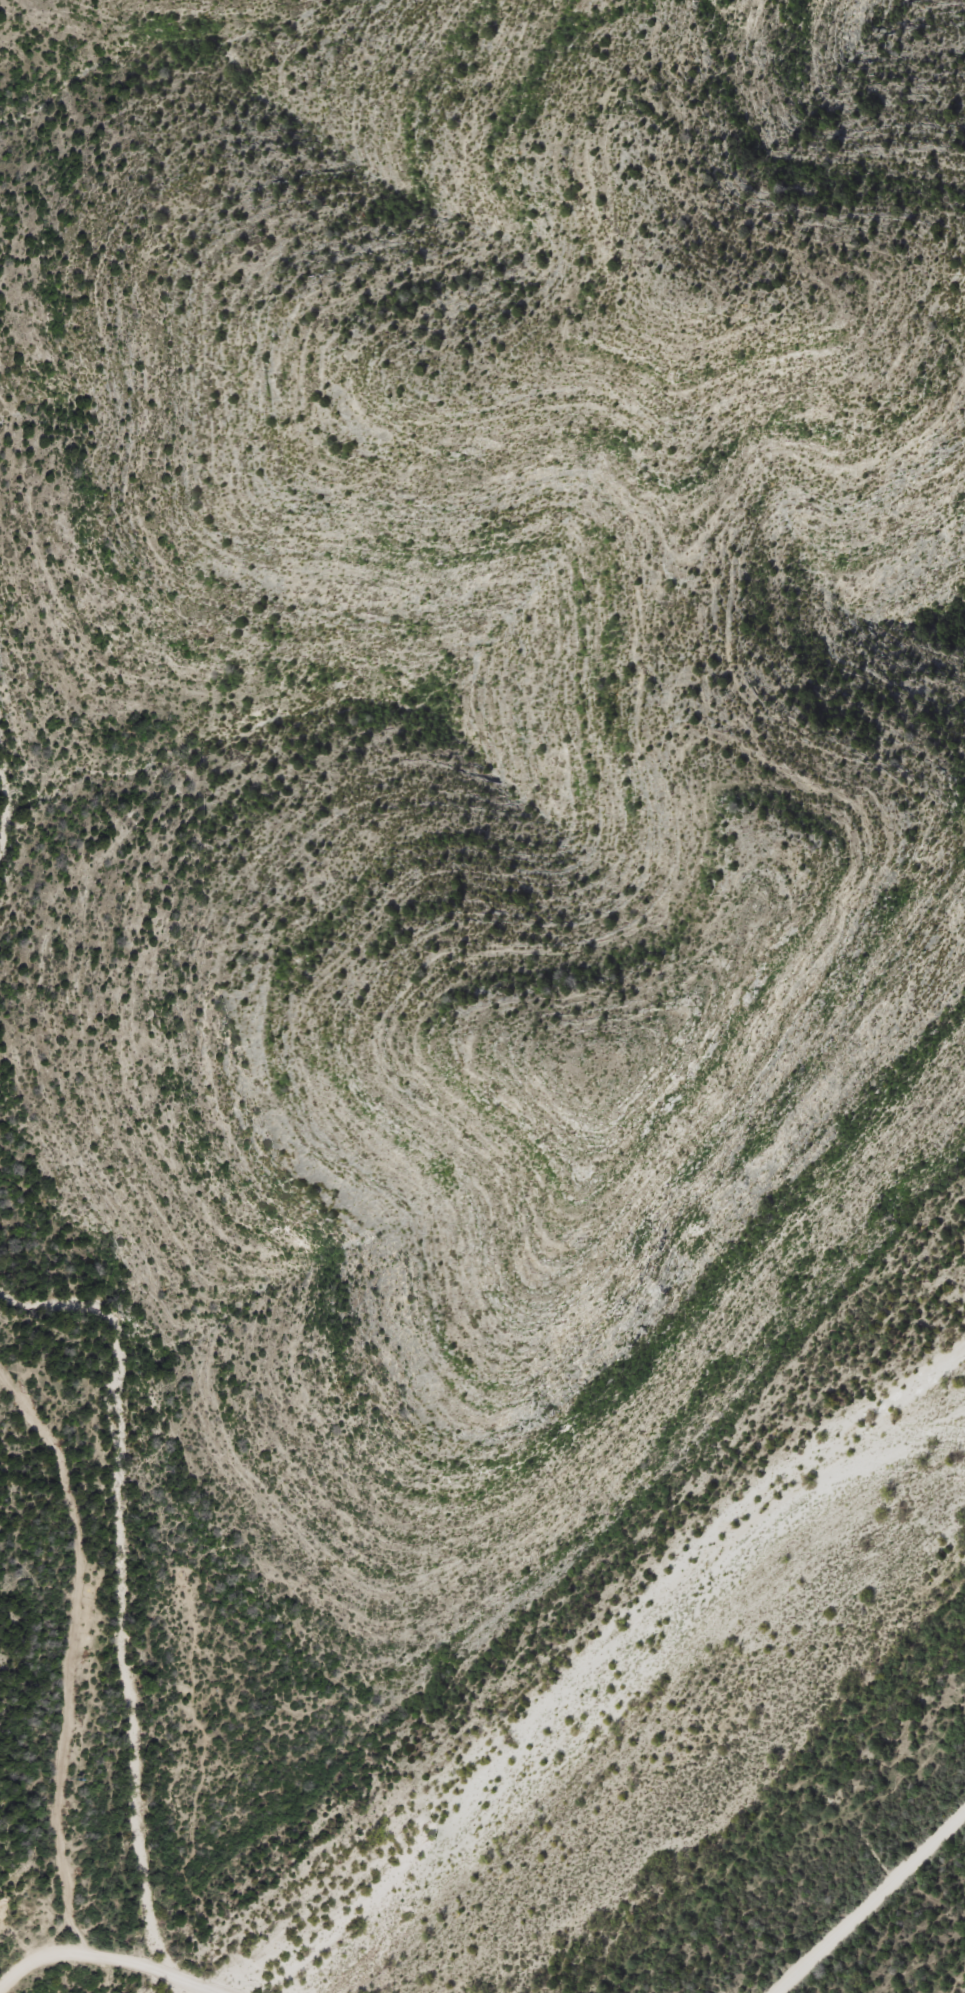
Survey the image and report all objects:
road: (71, 1653)
river: (491, 1681)
road: (874, 1905)
road: (107, 1957)

